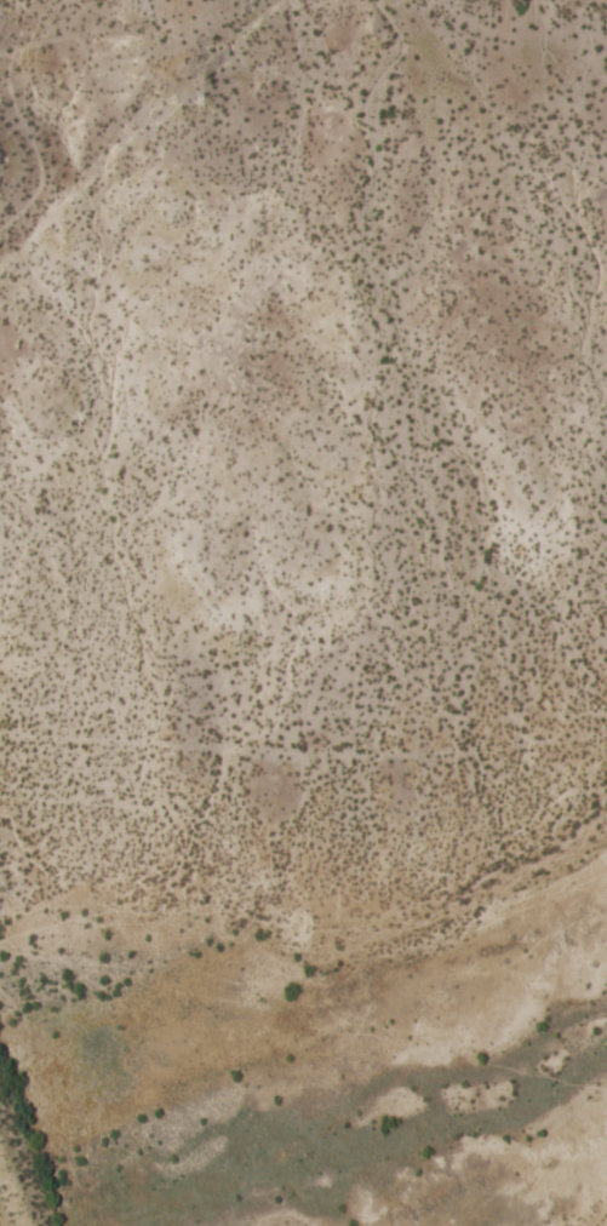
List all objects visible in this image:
road: (419, 1195)

